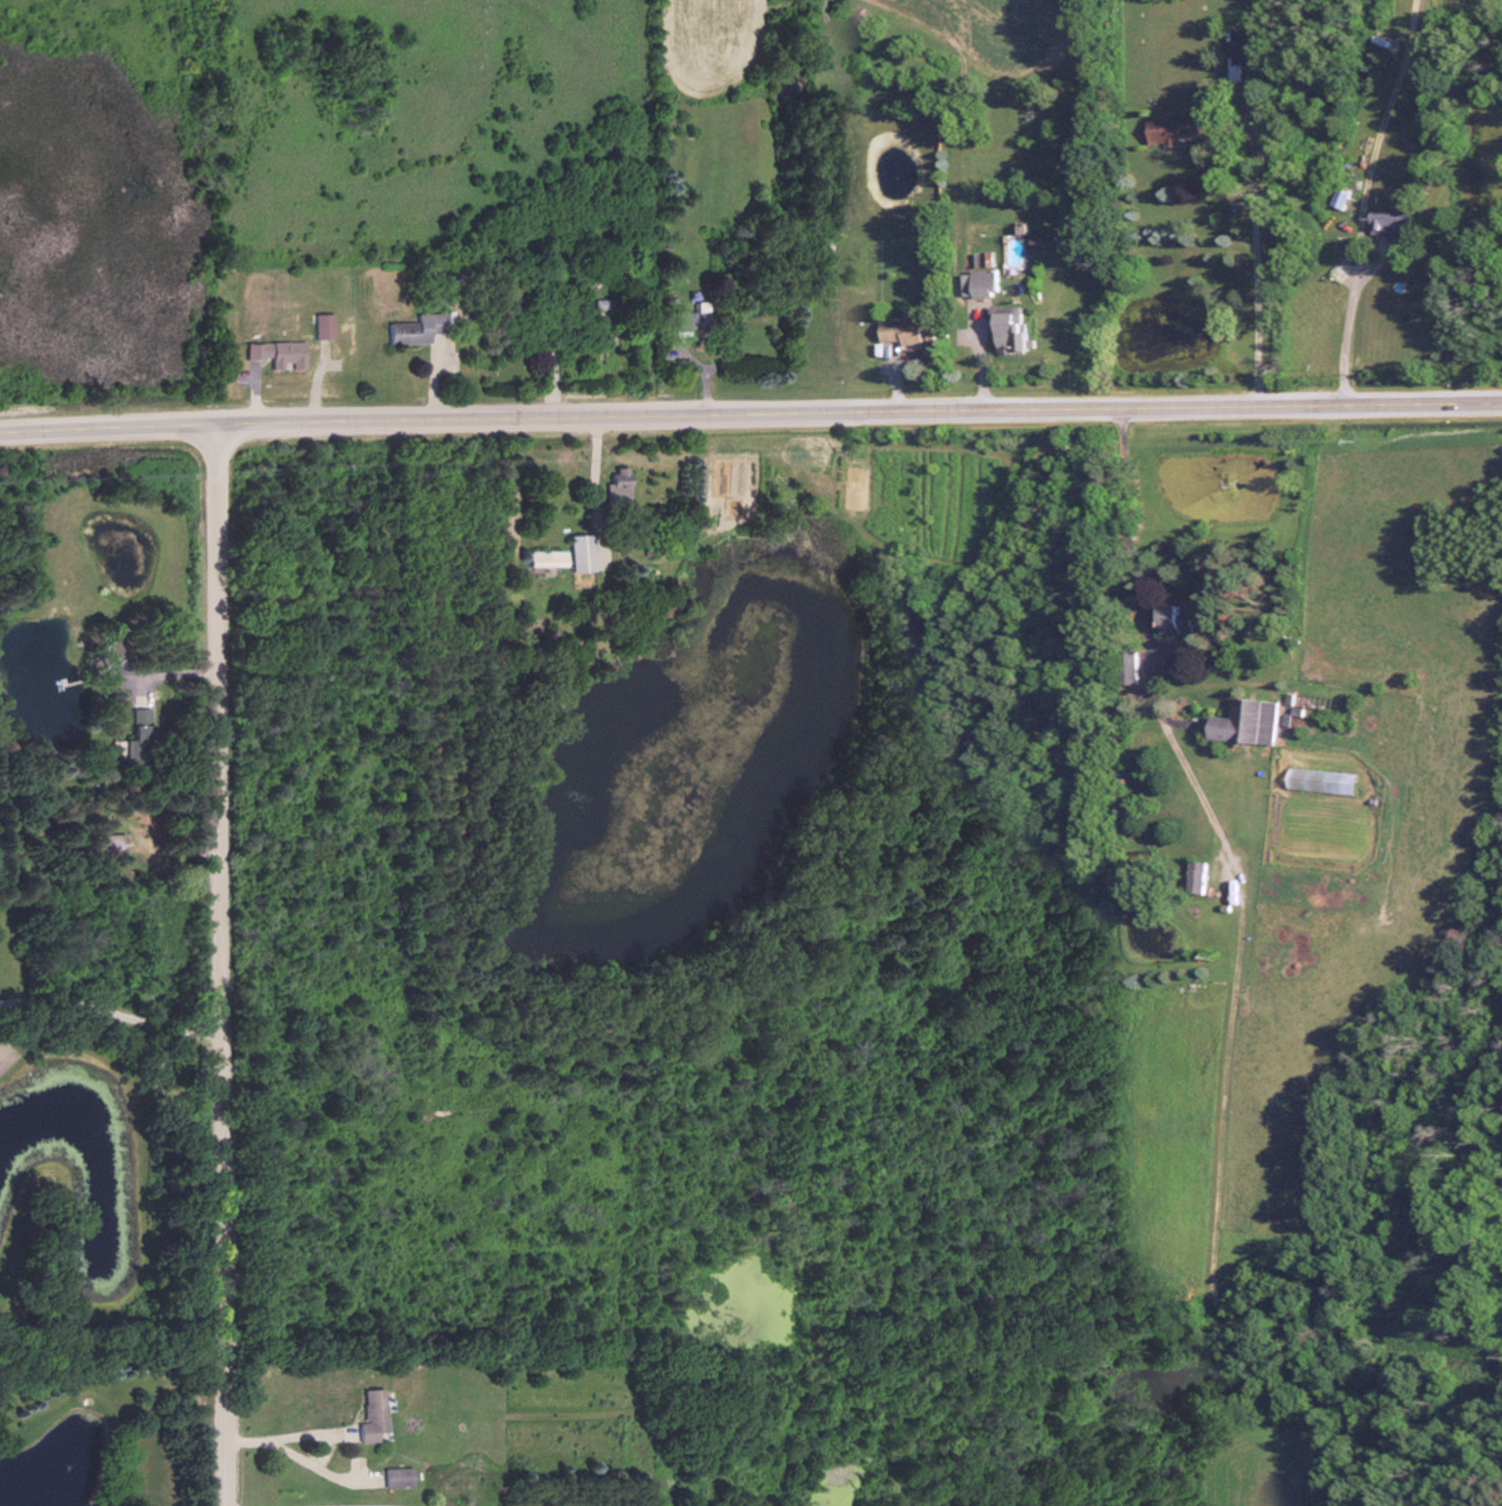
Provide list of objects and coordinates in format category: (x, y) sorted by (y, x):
building: (1242, 45)
building: (1169, 128)
road: (1361, 196)
building: (1338, 198)
building: (1387, 222)
building: (1043, 239)
building: (979, 281)
road: (1250, 289)
building: (319, 325)
building: (555, 327)
building: (412, 328)
building: (905, 331)
building: (1007, 332)
building: (275, 354)
road: (750, 406)
building: (610, 481)
building: (562, 554)
building: (1171, 619)
building: (1125, 666)
building: (1242, 720)
building: (1192, 875)
road: (218, 960)
building: (362, 1414)
road: (275, 1435)
building: (393, 1476)

